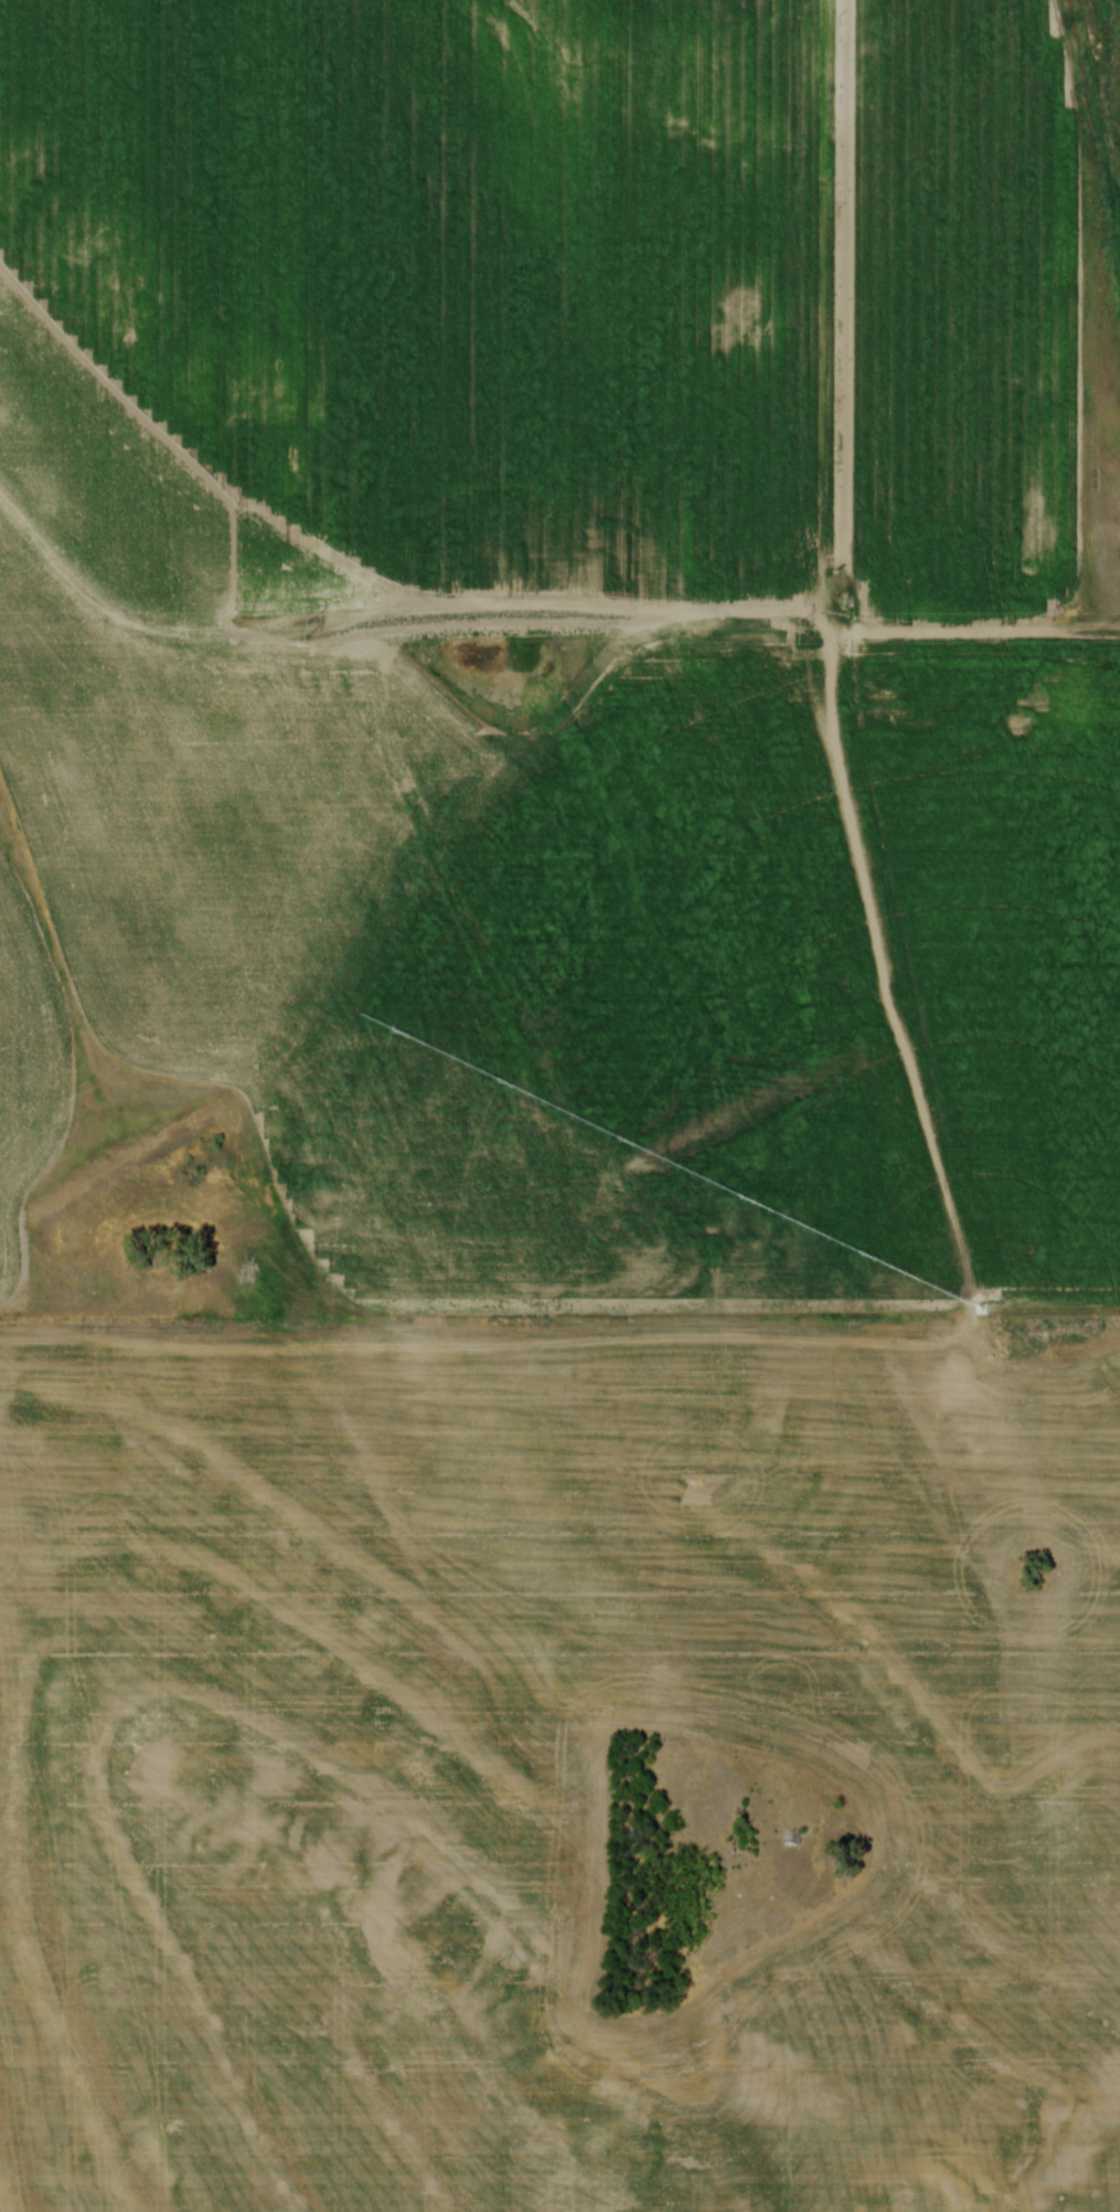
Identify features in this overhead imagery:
power tower: (798, 626)
power tower: (308, 627)

